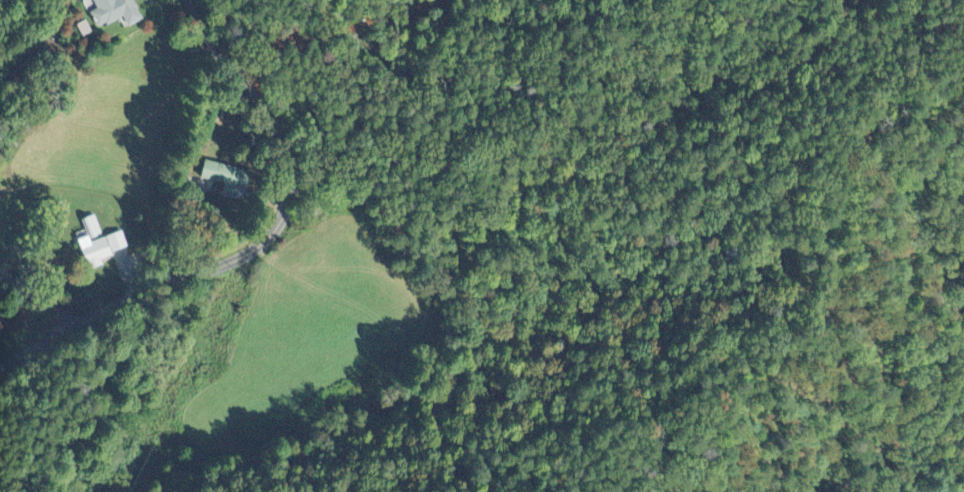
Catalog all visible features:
building: (117, 13)
building: (224, 176)
building: (101, 244)
road: (257, 245)
building: (127, 265)
road: (41, 293)
building: (2, 328)

